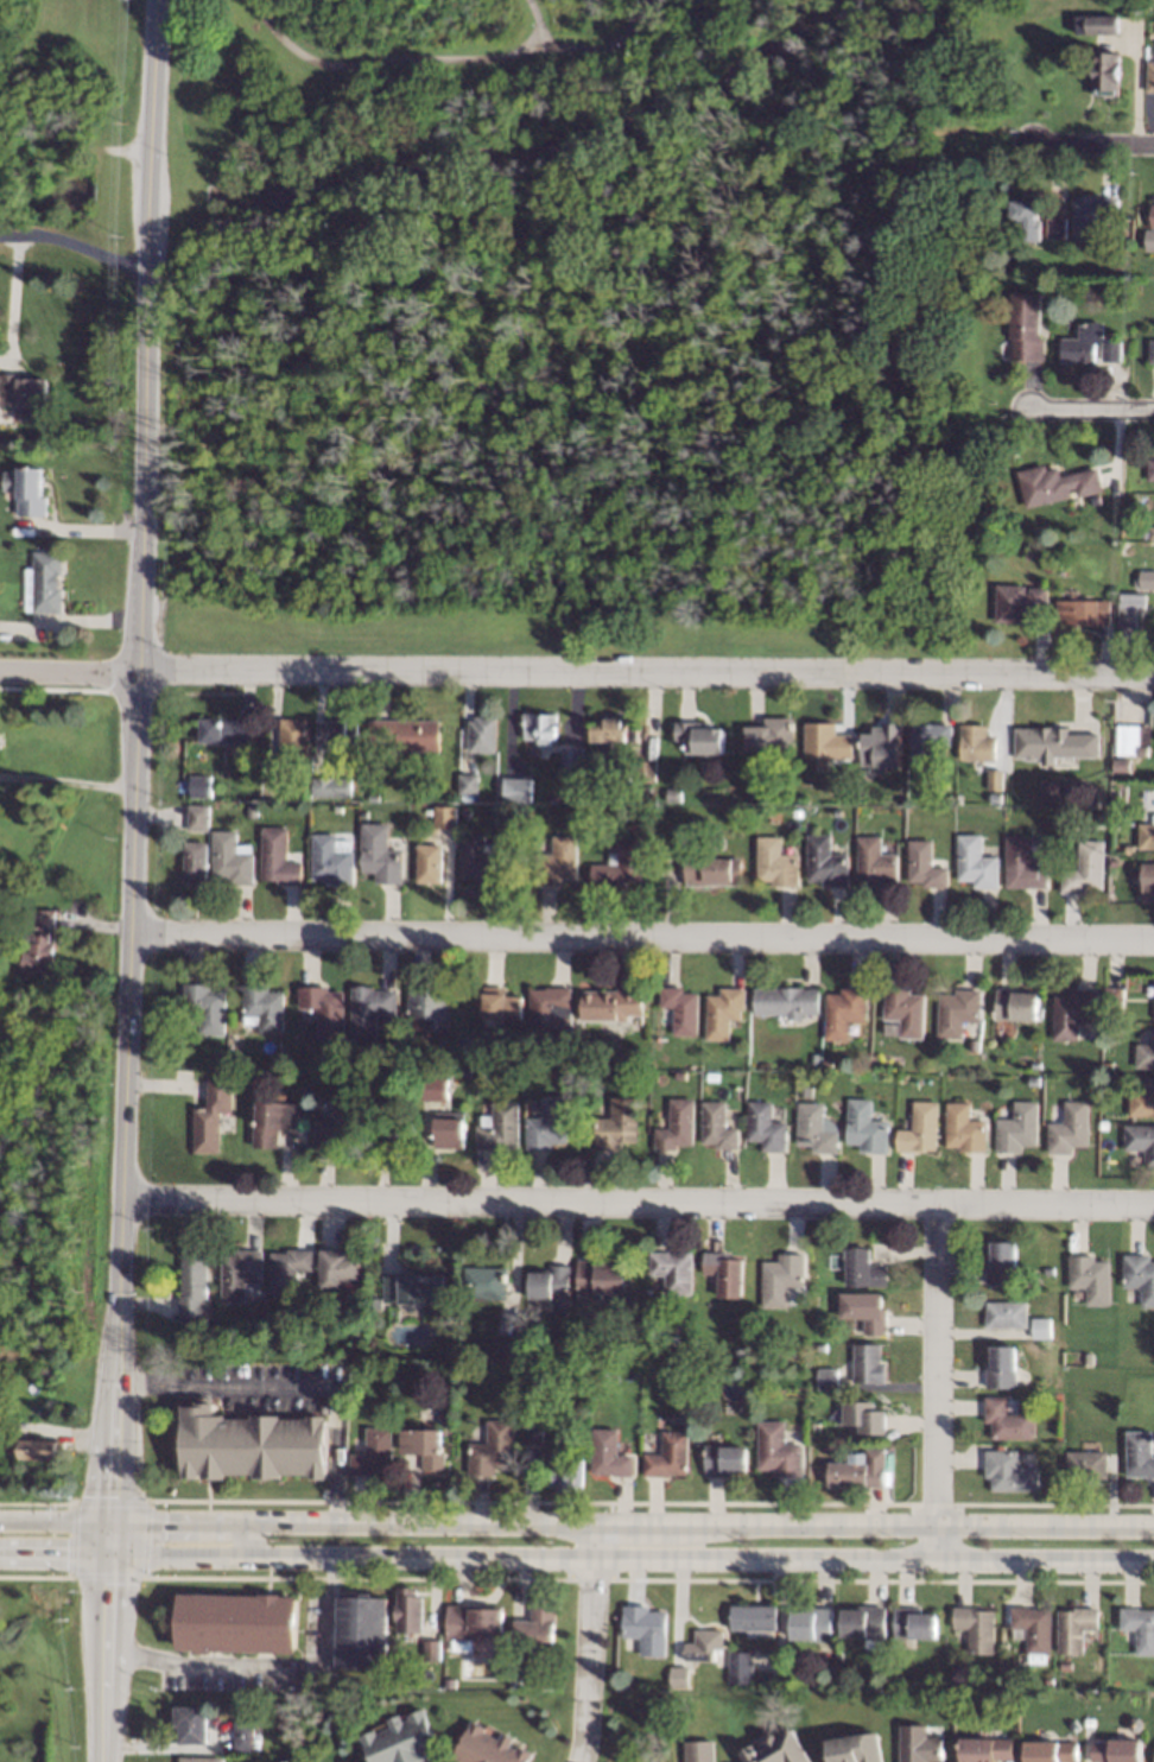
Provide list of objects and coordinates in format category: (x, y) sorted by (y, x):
building: (1148, 4)
road: (535, 21)
building: (1101, 24)
road: (446, 58)
building: (1110, 72)
building: (1152, 76)
park: (66, 78)
building: (1053, 95)
river: (540, 141)
road: (1093, 150)
river: (151, 194)
river: (47, 197)
building: (1093, 214)
building: (1028, 215)
building: (1140, 215)
building: (1153, 218)
building: (1058, 227)
building: (1150, 237)
road: (74, 243)
building: (1016, 262)
building: (1064, 293)
road: (14, 300)
building: (1027, 325)
park: (579, 327)
road: (145, 335)
building: (1084, 342)
building: (1153, 349)
building: (1112, 350)
building: (23, 392)
road: (1093, 408)
building: (1150, 468)
building: (1058, 483)
building: (31, 489)
building: (1153, 532)
building: (1042, 553)
building: (1148, 579)
building: (44, 581)
building: (1021, 601)
building: (1133, 607)
building: (1086, 610)
road: (68, 670)
road: (643, 671)
road: (52, 689)
road: (120, 691)
building: (543, 727)
building: (228, 729)
building: (615, 730)
building: (340, 731)
building: (408, 733)
building: (486, 734)
building: (773, 734)
building: (1136, 734)
building: (296, 736)
building: (702, 737)
building: (930, 740)
building: (829, 741)
building: (979, 742)
building: (1057, 743)
building: (884, 746)
building: (573, 756)
building: (258, 763)
building: (1123, 763)
building: (646, 771)
building: (275, 772)
building: (997, 779)
road: (65, 780)
building: (470, 782)
building: (299, 784)
building: (334, 785)
building: (203, 786)
building: (648, 787)
building: (519, 788)
building: (357, 792)
building: (676, 794)
building: (750, 796)
building: (364, 798)
building: (950, 798)
building: (554, 799)
building: (341, 807)
building: (254, 810)
building: (468, 811)
building: (448, 816)
building: (201, 817)
building: (1147, 835)
building: (1130, 848)
building: (382, 854)
building: (280, 856)
building: (235, 857)
building: (334, 860)
building: (486, 860)
building: (559, 860)
building: (197, 861)
building: (778, 861)
building: (828, 861)
building: (877, 861)
building: (977, 861)
building: (431, 862)
building: (1025, 862)
building: (1115, 862)
building: (622, 863)
building: (926, 863)
building: (715, 867)
building: (1085, 867)
building: (1149, 879)
road: (640, 937)
building: (37, 940)
building: (21, 994)
building: (1115, 997)
building: (1153, 999)
building: (787, 1000)
building: (502, 1003)
building: (614, 1003)
building: (1019, 1003)
building: (266, 1006)
building: (208, 1007)
building: (372, 1007)
building: (430, 1007)
building: (683, 1008)
building: (326, 1009)
building: (551, 1009)
building: (724, 1010)
building: (845, 1010)
building: (907, 1010)
building: (959, 1010)
building: (1076, 1012)
building: (1108, 1014)
building: (52, 1018)
building: (4, 1037)
building: (977, 1041)
building: (1146, 1054)
building: (1107, 1056)
building: (218, 1057)
building: (816, 1058)
building: (234, 1060)
building: (830, 1061)
building: (1039, 1064)
building: (465, 1071)
building: (247, 1072)
building: (615, 1075)
building: (714, 1075)
building: (1036, 1080)
building: (439, 1088)
building: (807, 1090)
road: (121, 1096)
building: (1143, 1102)
building: (214, 1115)
building: (274, 1121)
building: (341, 1121)
building: (551, 1123)
building: (620, 1123)
building: (678, 1124)
building: (719, 1126)
building: (767, 1126)
building: (868, 1126)
building: (501, 1127)
building: (818, 1127)
building: (922, 1127)
building: (1020, 1127)
building: (966, 1128)
building: (1072, 1128)
building: (452, 1129)
building: (398, 1134)
building: (1109, 1139)
building: (1141, 1139)
road: (635, 1200)
building: (1006, 1262)
building: (341, 1267)
building: (291, 1268)
building: (866, 1268)
building: (676, 1269)
building: (1053, 1269)
building: (728, 1272)
building: (242, 1274)
building: (1141, 1274)
building: (604, 1276)
building: (1093, 1276)
building: (784, 1278)
building: (488, 1281)
building: (195, 1285)
building: (554, 1285)
building: (416, 1287)
building: (632, 1300)
building: (376, 1303)
building: (868, 1310)
building: (1009, 1313)
building: (1045, 1326)
building: (360, 1329)
building: (254, 1336)
building: (677, 1338)
building: (506, 1346)
building: (824, 1346)
building: (490, 1351)
building: (7, 1352)
building: (767, 1354)
building: (1091, 1358)
building: (871, 1362)
building: (1006, 1365)
building: (376, 1369)
building: (469, 1371)
building: (767, 1373)
building: (709, 1377)
building: (830, 1377)
building: (691, 1378)
road: (934, 1381)
road: (283, 1392)
building: (867, 1415)
building: (1012, 1419)
building: (818, 1425)
building: (535, 1430)
building: (254, 1444)
building: (426, 1445)
building: (33, 1447)
building: (495, 1449)
building: (782, 1449)
building: (376, 1451)
building: (1142, 1452)
building: (613, 1453)
building: (672, 1454)
building: (729, 1458)
building: (1091, 1464)
building: (566, 1468)
building: (1013, 1470)
building: (861, 1473)
traffic signals: (110, 1496)
road: (36, 1502)
road: (108, 1503)
road: (55, 1520)
traffic signals: (161, 1520)
road: (630, 1523)
road: (247, 1538)
road: (71, 1539)
road: (142, 1539)
road: (53, 1555)
traffic signals: (64, 1557)
road: (630, 1558)
road: (104, 1574)
traffic signals: (107, 1583)
building: (410, 1610)
building: (754, 1620)
building: (235, 1623)
building: (913, 1623)
building: (470, 1624)
building: (812, 1624)
building: (864, 1625)
building: (1139, 1628)
building: (645, 1629)
building: (975, 1629)
building: (1073, 1629)
building: (362, 1630)
building: (535, 1630)
building: (1032, 1631)
road: (103, 1640)
road: (586, 1642)
building: (703, 1646)
building: (432, 1649)
road: (191, 1665)
building: (1064, 1665)
building: (740, 1668)
building: (678, 1677)
building: (950, 1678)
building: (514, 1679)
building: (894, 1679)
building: (790, 1680)
building: (449, 1681)
building: (1045, 1681)
building: (681, 1703)
building: (1090, 1723)
building: (192, 1724)
building: (1135, 1724)
building: (243, 1736)
building: (402, 1741)
building: (919, 1744)
building: (489, 1747)
building: (855, 1749)
building: (985, 1749)
building: (776, 1750)
building: (1116, 1750)
building: (697, 1751)
building: (1051, 1751)
building: (201, 1760)

